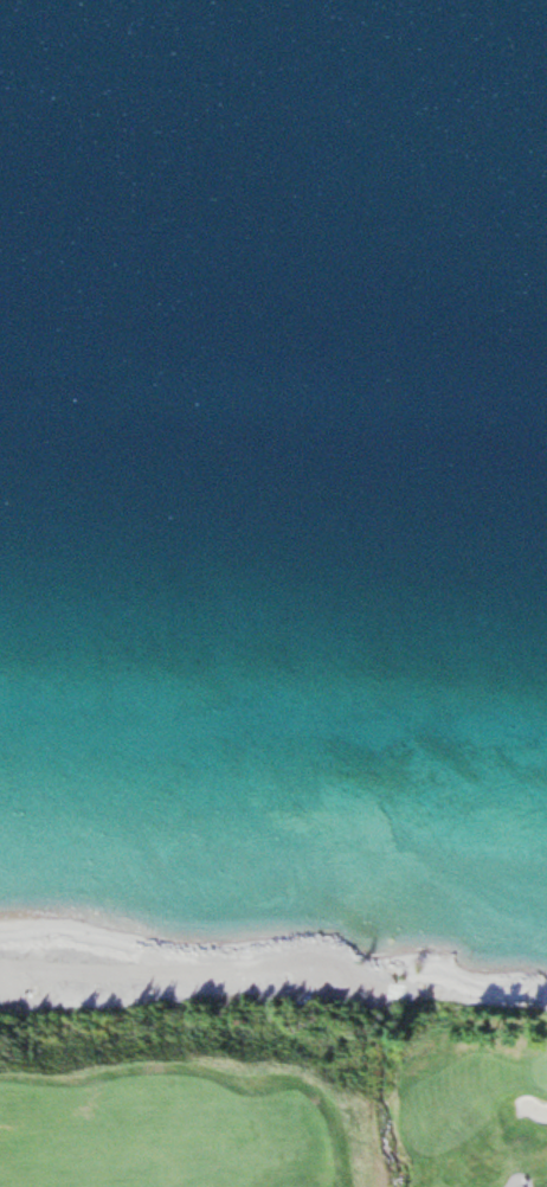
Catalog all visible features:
park: (541, 1070)
park: (278, 1098)
road: (514, 1183)

